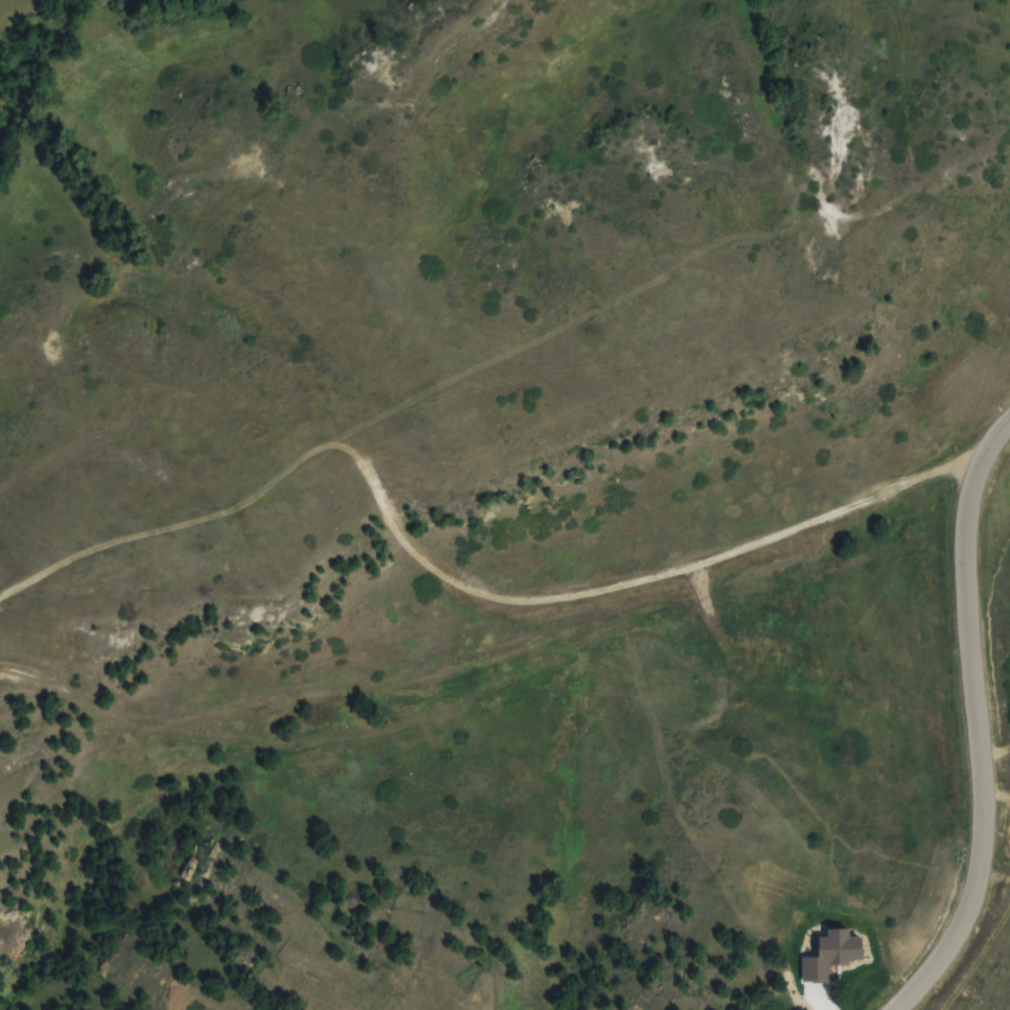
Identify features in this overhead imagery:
road: (975, 726)

